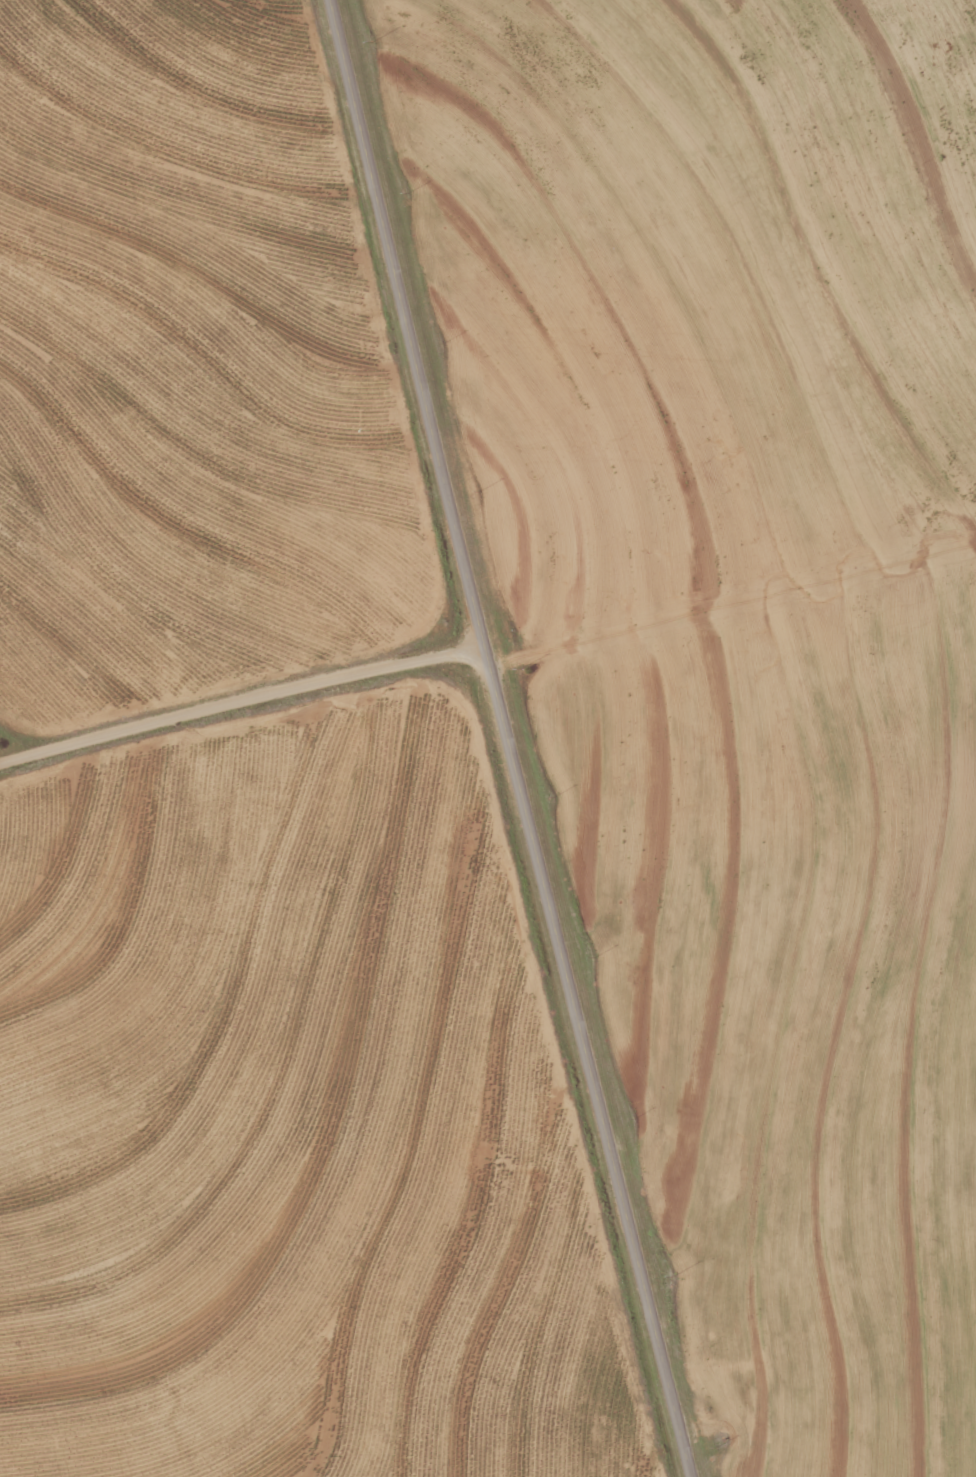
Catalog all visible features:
road: (733, 623)
road: (241, 694)
road: (506, 739)

